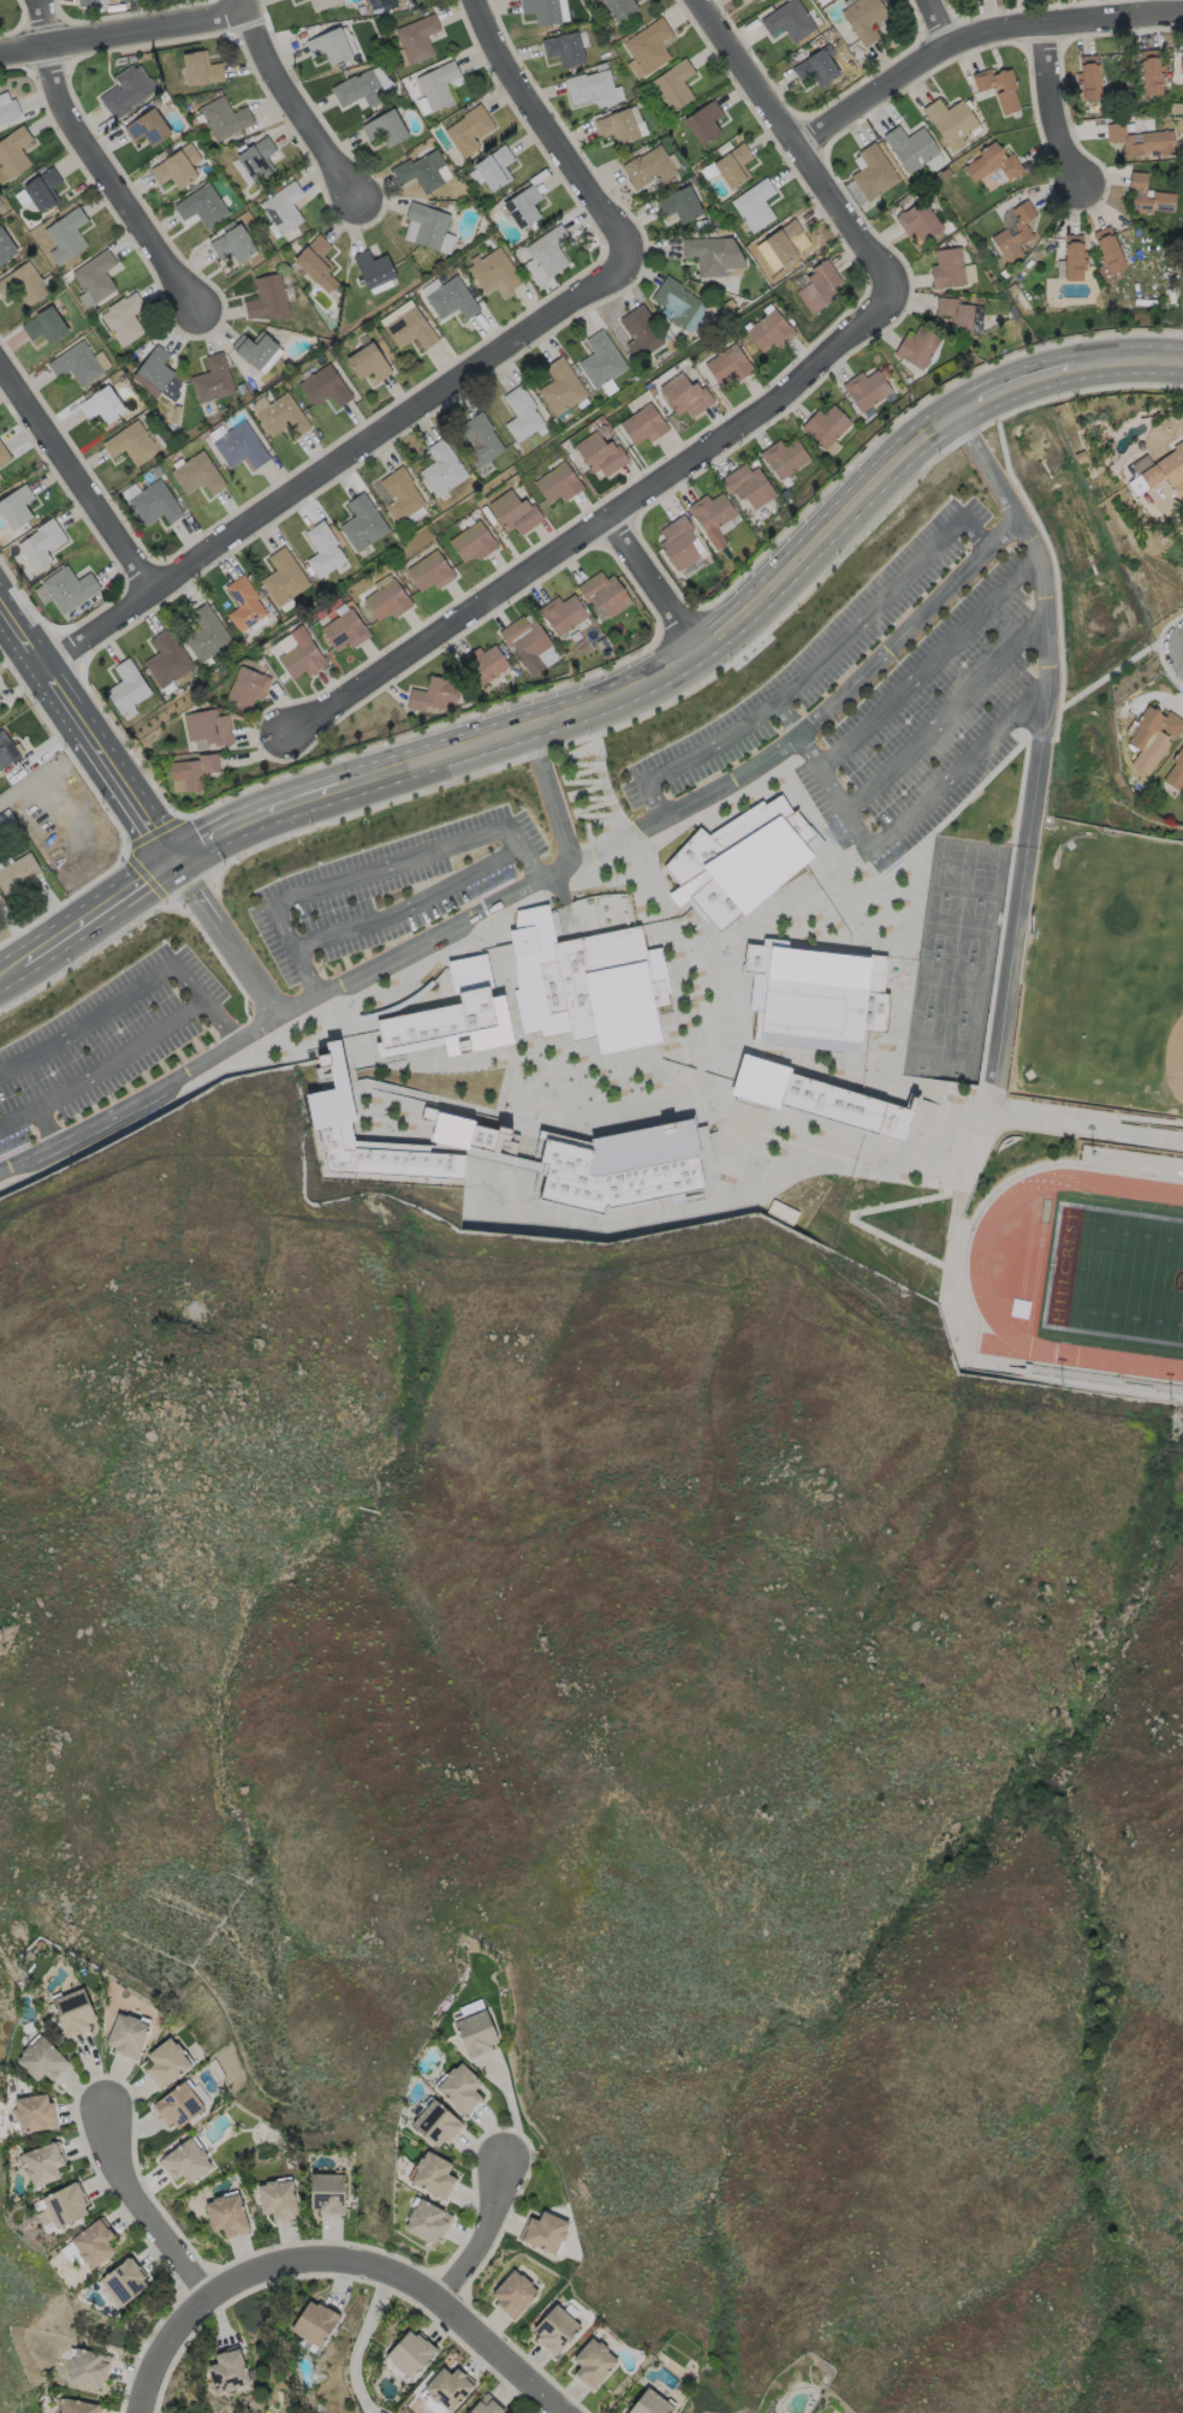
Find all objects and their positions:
building: (759, 0)
building: (87, 2)
road: (244, 4)
building: (321, 4)
road: (1176, 4)
building: (620, 7)
building: (541, 11)
road: (945, 17)
building: (863, 18)
building: (787, 20)
road: (123, 29)
road: (976, 29)
building: (416, 37)
building: (329, 44)
building: (648, 47)
building: (564, 48)
building: (1181, 61)
building: (816, 67)
building: (201, 69)
building: (1151, 72)
building: (1088, 76)
building: (438, 84)
building: (673, 84)
building: (358, 88)
building: (590, 88)
building: (1004, 91)
building: (124, 93)
road: (305, 99)
road: (1058, 107)
building: (10, 112)
building: (224, 118)
building: (703, 121)
building: (951, 121)
building: (617, 126)
building: (147, 127)
building: (385, 127)
road: (547, 127)
building: (469, 129)
road: (798, 136)
building: (1140, 141)
building: (910, 147)
building: (13, 151)
building: (256, 158)
road: (101, 160)
building: (991, 161)
building: (732, 165)
building: (177, 166)
building: (494, 167)
building: (648, 167)
building: (420, 171)
building: (873, 172)
building: (42, 189)
building: (1163, 195)
building: (201, 204)
building: (679, 204)
building: (754, 204)
building: (523, 206)
building: (283, 207)
building: (919, 221)
building: (427, 224)
building: (1015, 232)
building: (65, 234)
building: (787, 240)
building: (232, 242)
building: (6, 248)
building: (548, 250)
building: (1107, 254)
building: (712, 255)
building: (1074, 257)
building: (316, 262)
building: (373, 268)
building: (950, 268)
building: (494, 273)
building: (95, 275)
building: (23, 284)
building: (819, 286)
building: (267, 297)
building: (451, 298)
building: (674, 302)
building: (961, 315)
building: (123, 319)
building: (44, 325)
building: (409, 328)
building: (769, 329)
building: (640, 331)
building: (917, 346)
building: (255, 349)
building: (600, 359)
building: (368, 362)
building: (76, 363)
building: (727, 364)
building: (159, 373)
road: (1034, 374)
building: (212, 379)
building: (325, 386)
building: (560, 386)
building: (866, 388)
building: (685, 394)
building: (101, 404)
building: (280, 414)
building: (521, 414)
building: (643, 424)
building: (826, 426)
building: (480, 440)
building: (130, 442)
building: (239, 446)
building: (599, 453)
building: (4, 454)
building: (784, 457)
road: (338, 458)
building: (441, 468)
road: (79, 469)
building: (1173, 470)
building: (197, 474)
building: (558, 483)
building: (748, 485)
building: (400, 494)
building: (154, 503)
building: (16, 506)
building: (515, 512)
building: (712, 516)
road: (602, 518)
building: (362, 523)
road: (1001, 531)
building: (472, 541)
building: (677, 541)
building: (41, 542)
building: (322, 548)
building: (429, 571)
building: (284, 576)
road: (654, 582)
building: (67, 588)
building: (604, 593)
building: (387, 600)
building: (243, 602)
road: (2, 604)
building: (561, 613)
building: (344, 630)
building: (206, 634)
road: (1177, 637)
road: (893, 641)
building: (525, 642)
road: (1177, 649)
building: (301, 654)
building: (166, 658)
road: (927, 660)
building: (482, 662)
road: (812, 666)
building: (126, 687)
building: (246, 687)
road: (1094, 687)
parking lot: (882, 689)
building: (433, 694)
road: (571, 709)
road: (944, 709)
road: (787, 713)
road: (87, 725)
building: (1169, 725)
building: (208, 727)
road: (1036, 737)
building: (6, 750)
road: (47, 768)
building: (194, 771)
building: (1176, 773)
road: (854, 814)
road: (612, 842)
building: (4, 860)
building: (741, 860)
road: (370, 869)
building: (17, 873)
parking lot: (392, 896)
building: (0, 898)
road: (410, 904)
road: (85, 917)
road: (225, 937)
park: (955, 959)
park: (1106, 964)
road: (344, 980)
building: (587, 982)
road: (129, 992)
building: (814, 995)
building: (452, 1024)
parking lot: (105, 1041)
road: (121, 1057)
building: (819, 1098)
building: (329, 1106)
road: (35, 1109)
building: (460, 1130)
building: (623, 1167)
track: (1093, 1270)
track: (1083, 1271)
park: (1114, 1272)
track: (979, 1278)
building: (73, 2011)
building: (475, 2029)
building: (127, 2034)
building: (42, 2060)
building: (167, 2063)
building: (459, 2088)
building: (178, 2105)
building: (34, 2114)
building: (436, 2124)
building: (186, 2162)
building: (42, 2164)
building: (433, 2175)
building: (328, 2194)
building: (278, 2199)
building: (66, 2206)
road: (145, 2211)
building: (226, 2215)
building: (427, 2222)
building: (545, 2233)
road: (486, 2237)
building: (94, 2243)
road: (340, 2262)
building: (124, 2282)
building: (513, 2293)
building: (316, 2323)
building: (554, 2330)
road: (359, 2341)
building: (409, 2354)
building: (593, 2363)
building: (88, 2369)
building: (227, 2370)
building: (446, 2390)
building: (650, 2403)
building: (486, 2406)
building: (77, 2407)

